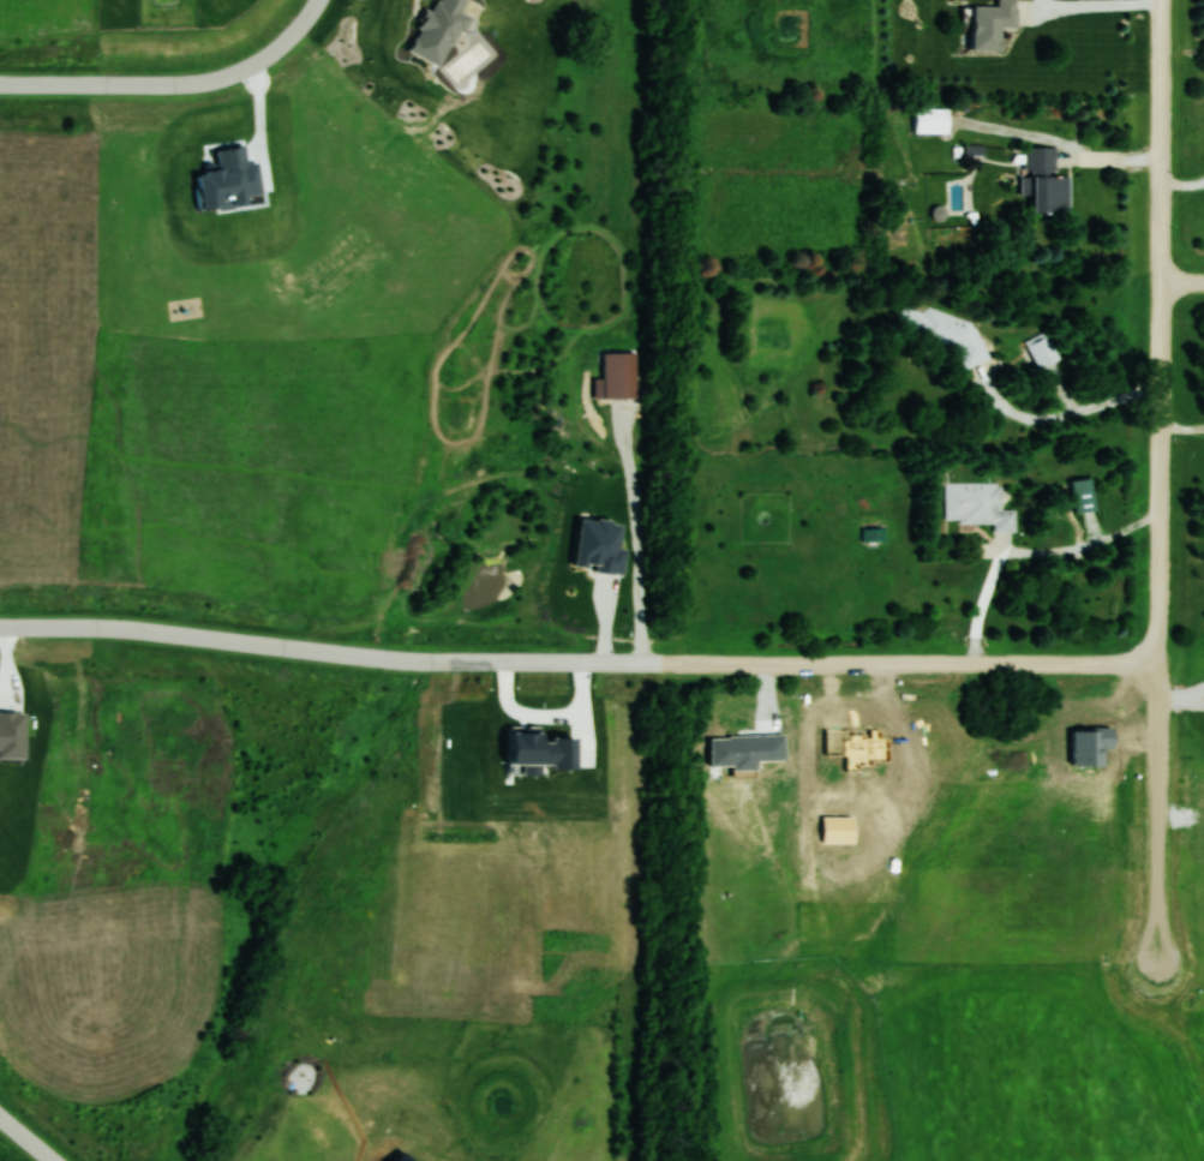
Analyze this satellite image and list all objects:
road: (1091, 8)
road: (307, 19)
building: (992, 23)
road: (152, 85)
building: (930, 120)
building: (1044, 180)
road: (1181, 283)
building: (941, 329)
building: (1042, 352)
road: (1059, 418)
road: (1157, 486)
building: (977, 504)
road: (636, 534)
road: (1026, 553)
road: (576, 662)
road: (26, 1138)

